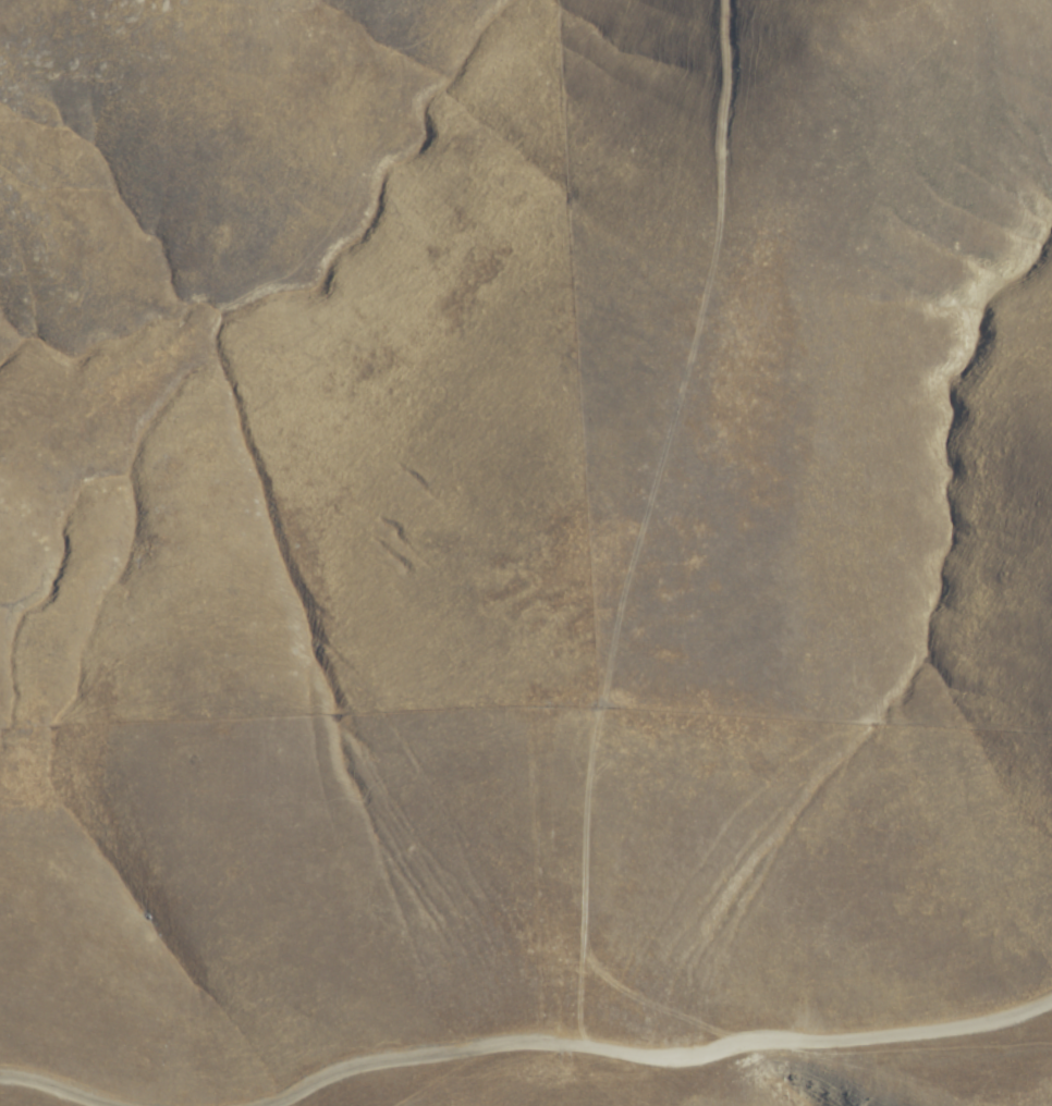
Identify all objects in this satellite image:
road: (660, 1061)
road: (52, 1087)

